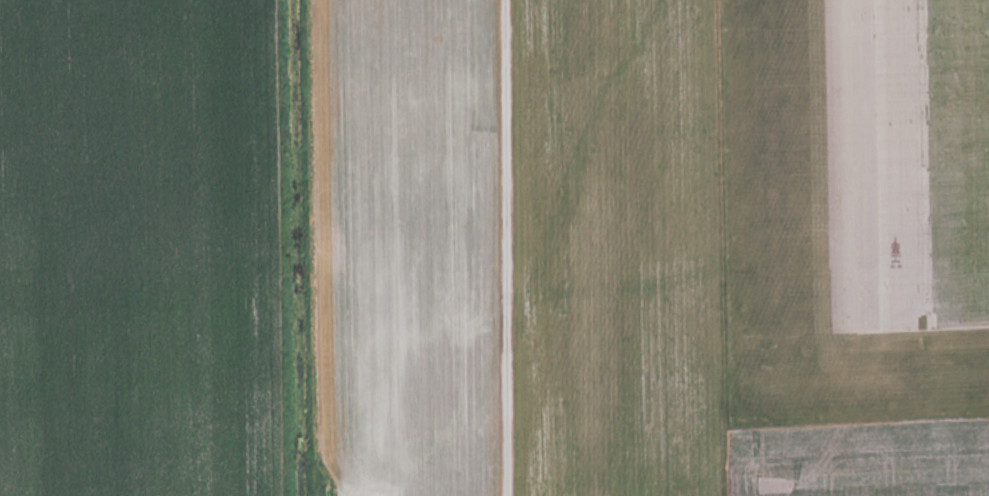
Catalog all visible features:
road: (504, 248)

